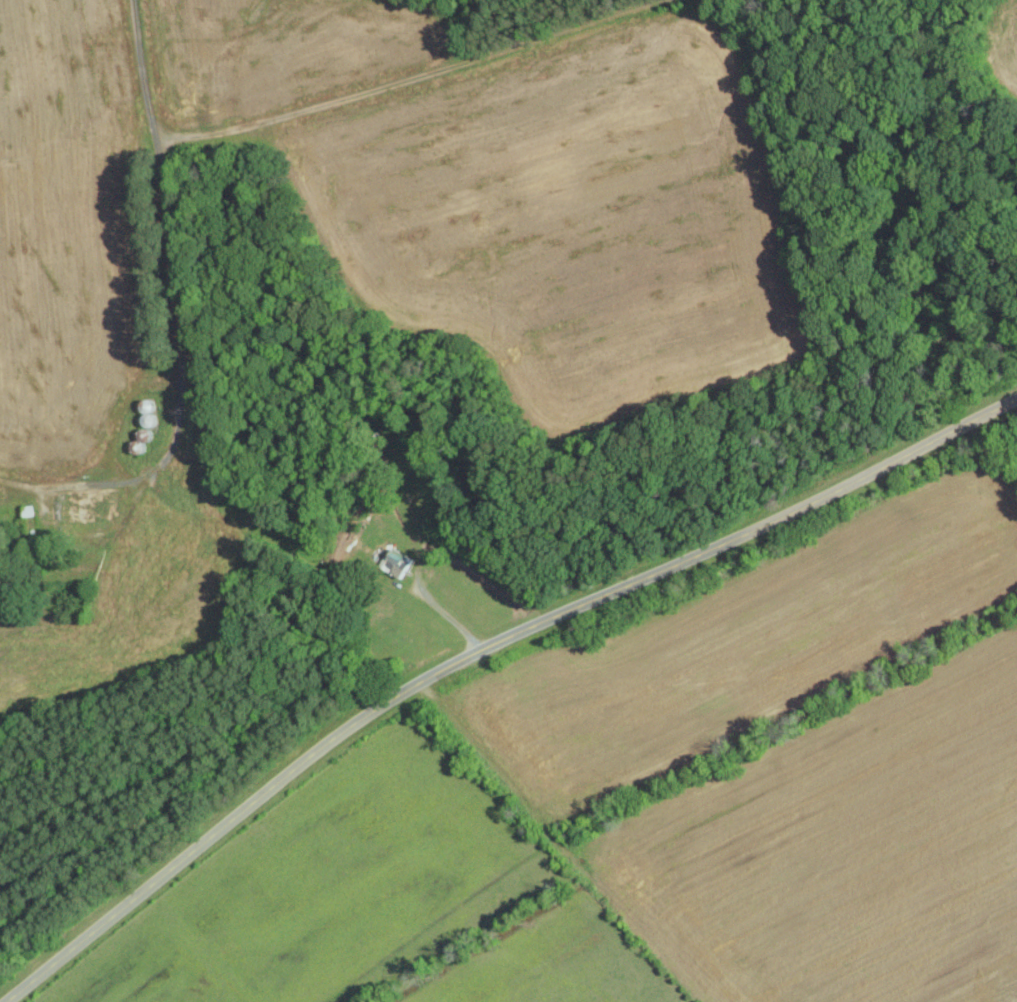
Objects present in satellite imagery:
road: (407, 77)
road: (178, 316)
building: (84, 507)
building: (396, 562)
road: (442, 610)
road: (479, 649)

